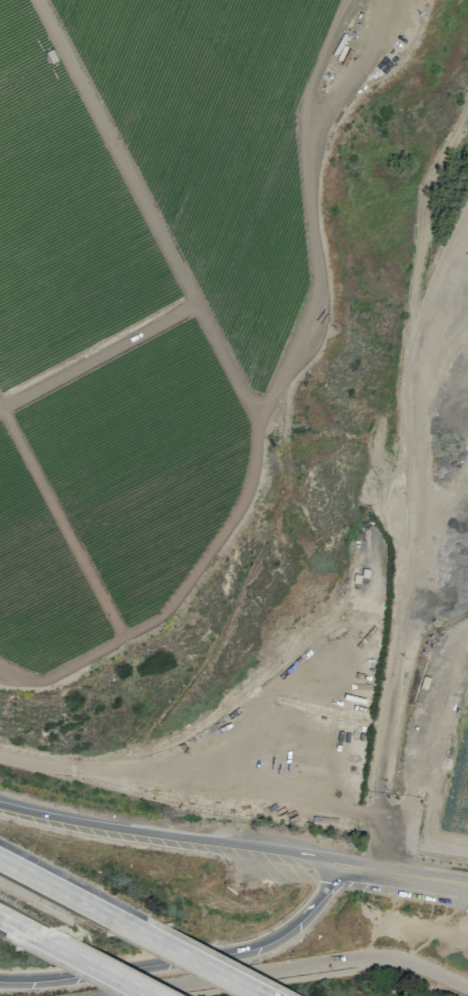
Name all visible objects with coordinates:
road: (348, 81)
crop: (214, 145)
road: (147, 210)
crop: (62, 214)
road: (422, 217)
road: (97, 355)
road: (266, 402)
crop: (142, 462)
road: (60, 522)
road: (410, 552)
crop: (39, 579)
road: (15, 672)
crop: (457, 783)
road: (293, 797)
road: (429, 823)
road: (170, 834)
road: (361, 868)
road: (425, 878)
road: (47, 881)
road: (17, 926)
road: (179, 951)
road: (185, 956)
road: (91, 966)
road: (298, 967)
road: (321, 974)
park: (50, 994)

